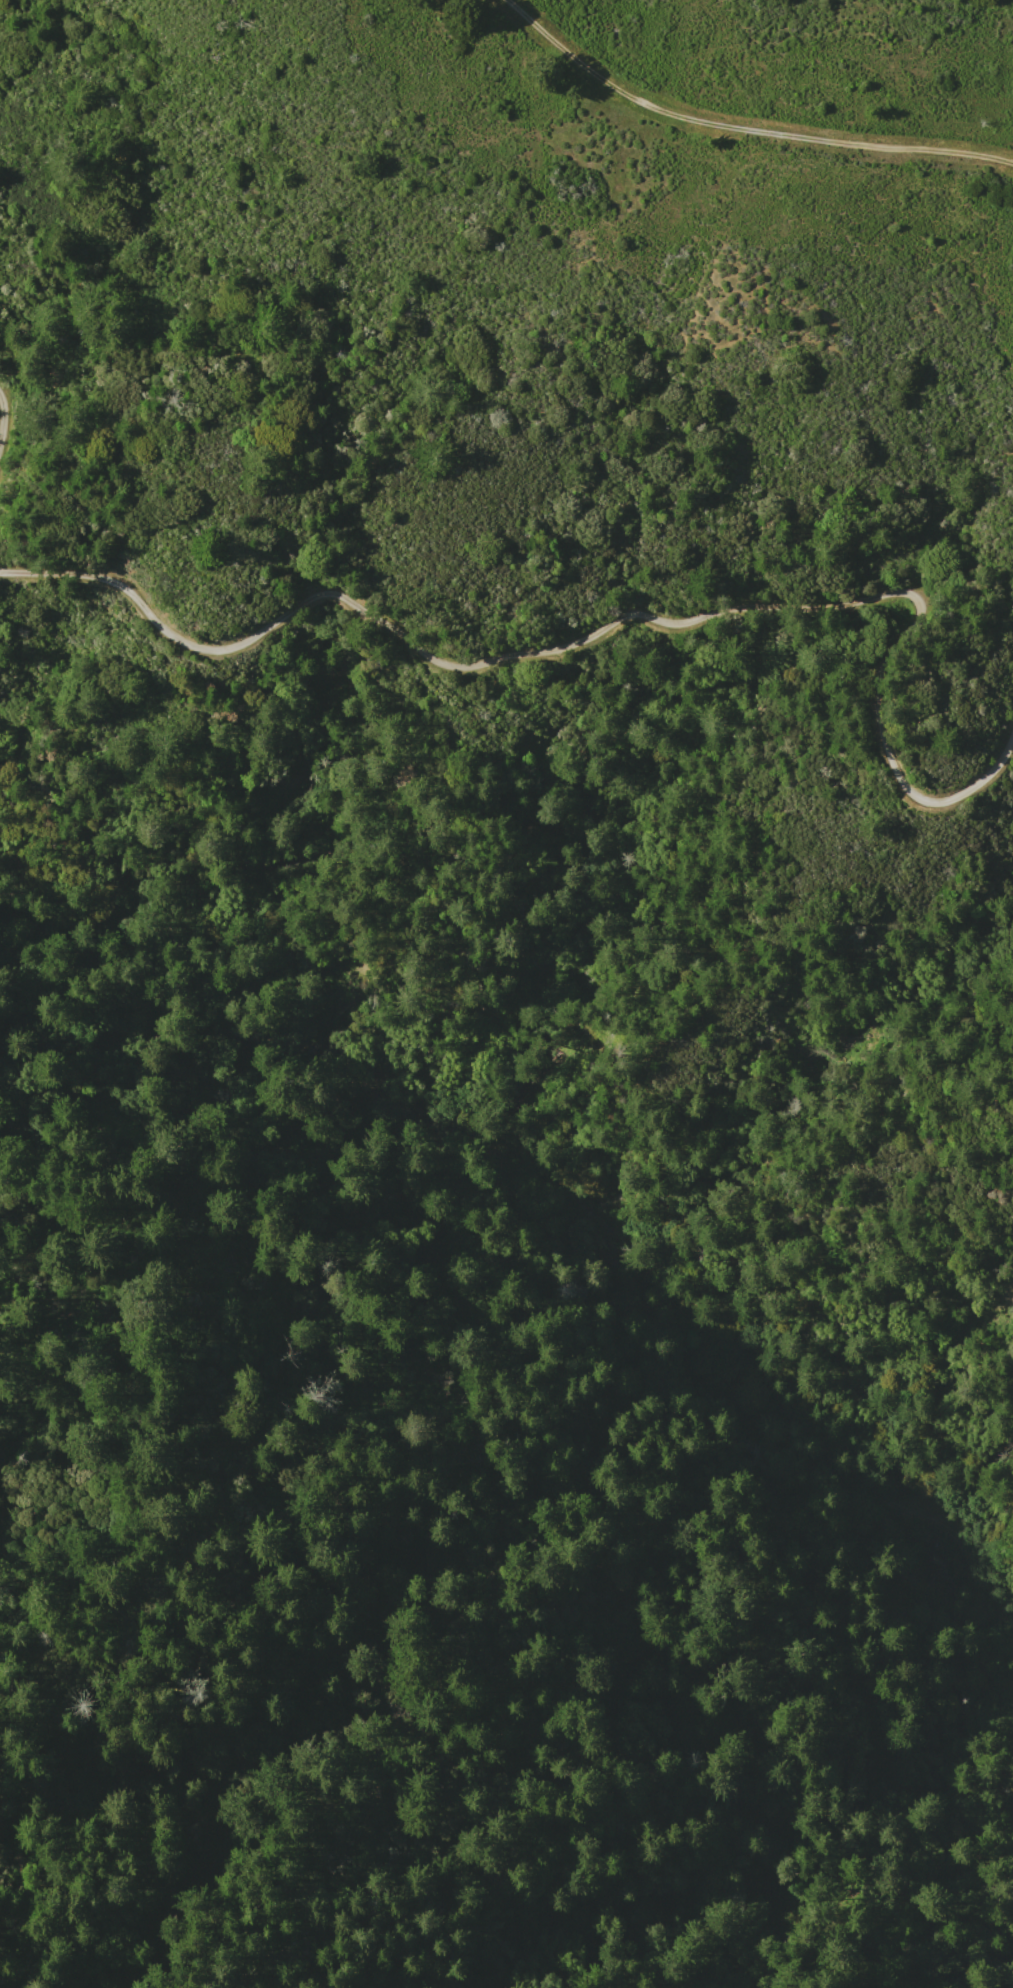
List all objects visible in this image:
road: (746, 126)
road: (1, 420)
road: (607, 637)
road: (960, 1542)

